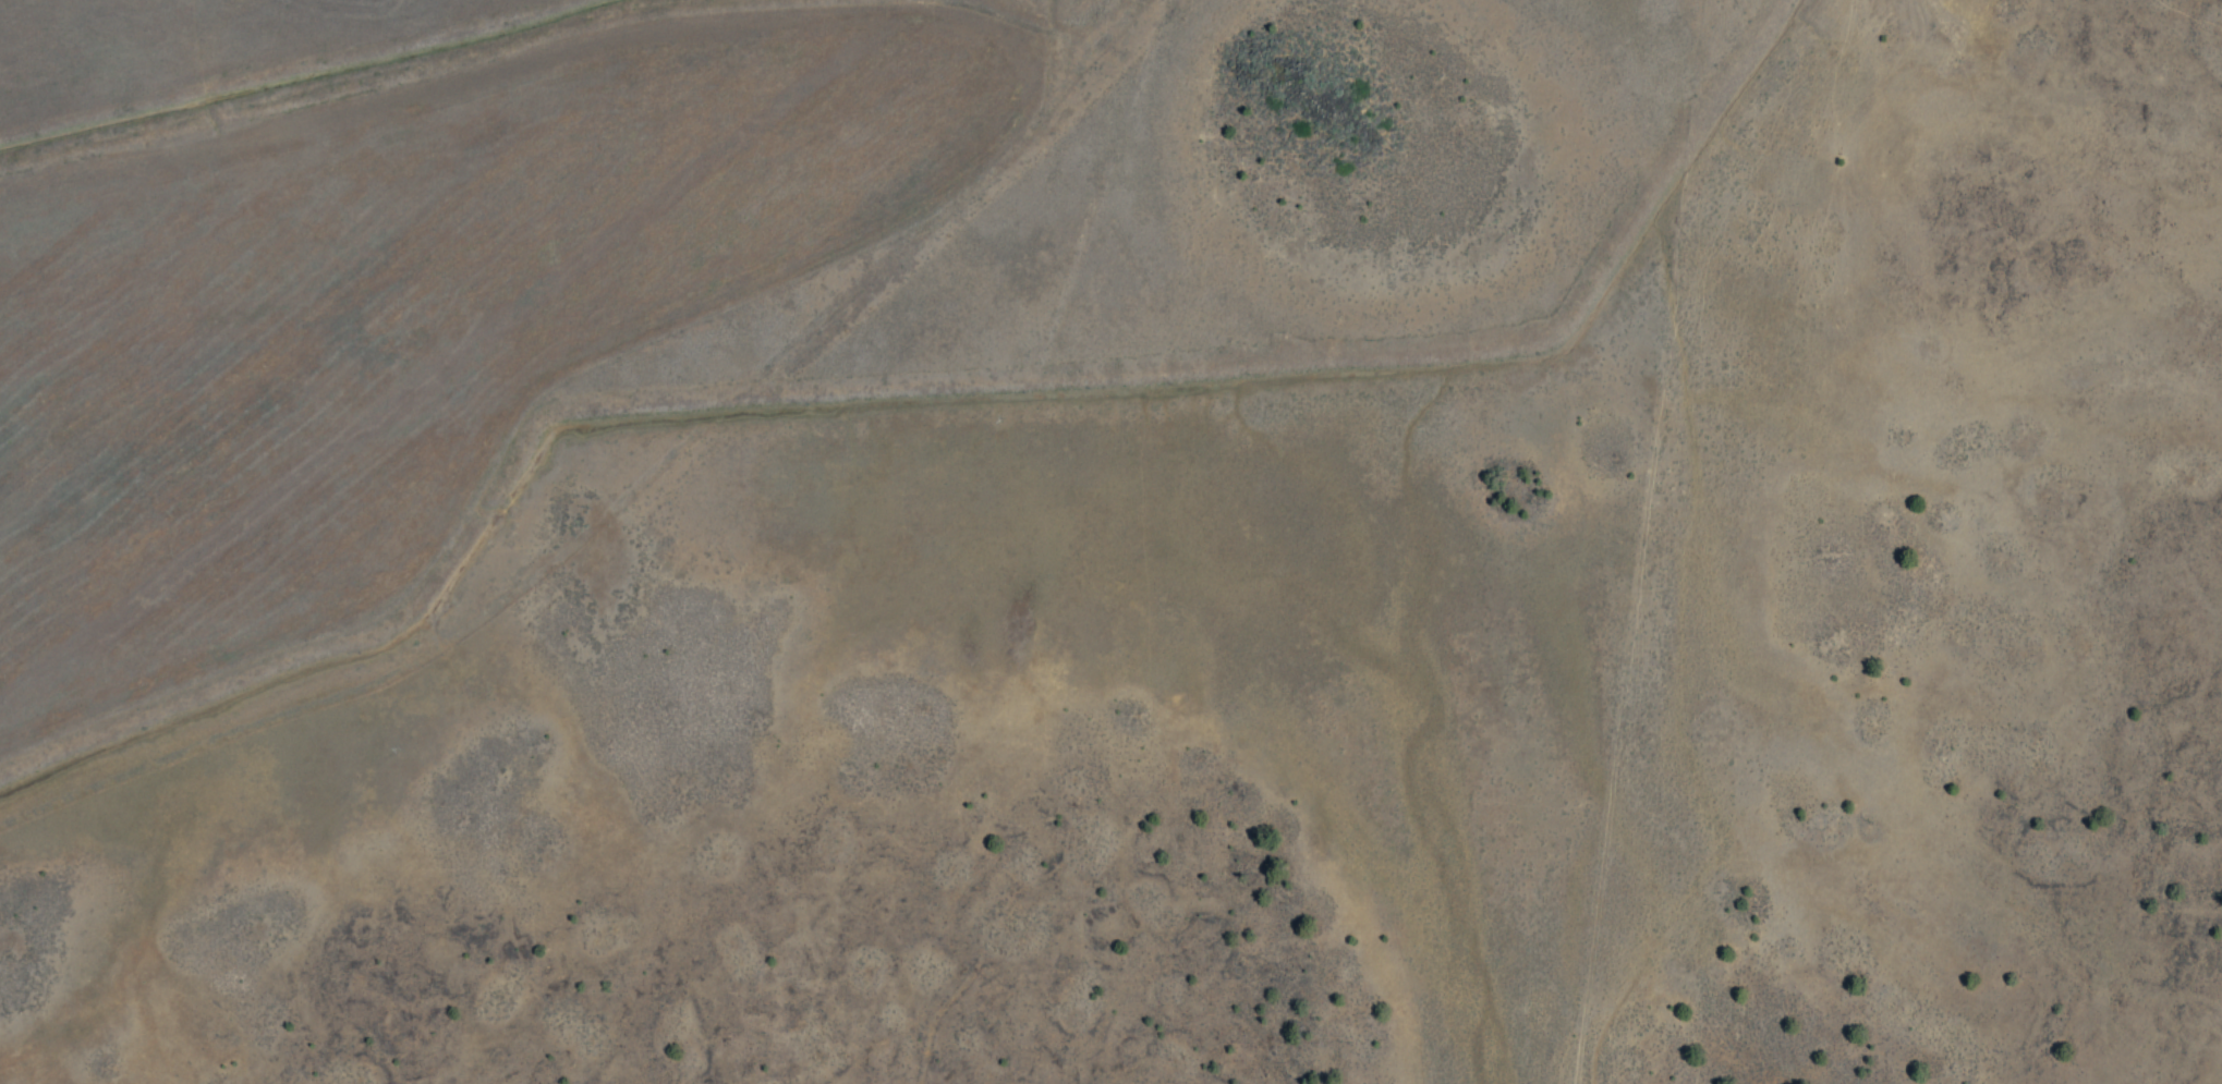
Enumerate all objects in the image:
crop: (210, 51)
crop: (404, 303)

